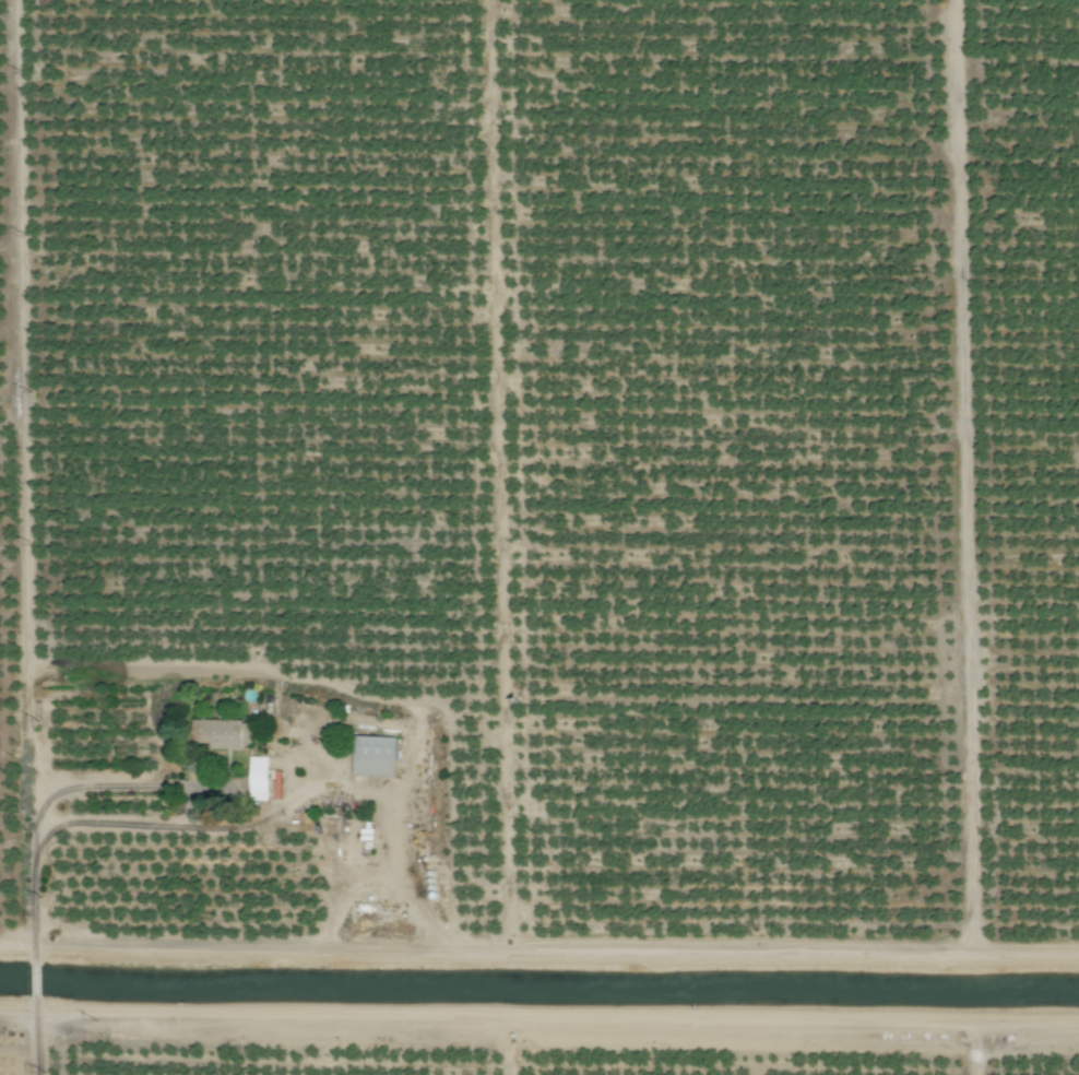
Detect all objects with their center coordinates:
road: (28, 537)
road: (272, 672)
building: (223, 733)
building: (375, 755)
building: (258, 778)
road: (138, 784)
road: (181, 825)
road: (396, 853)
road: (538, 964)
road: (538, 1016)
road: (973, 1048)

